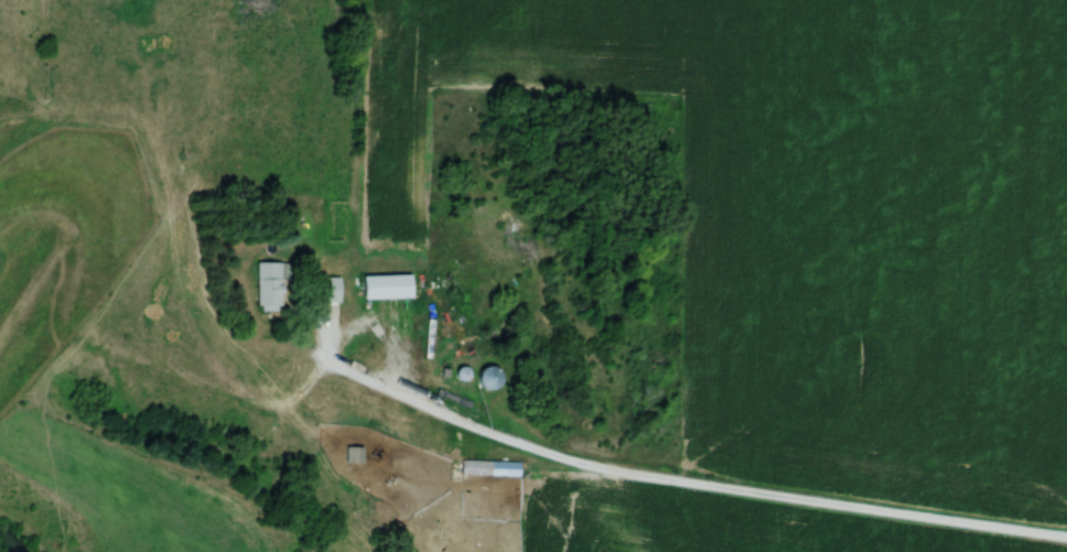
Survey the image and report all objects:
dam: (22, 271)
building: (268, 286)
building: (385, 288)
building: (325, 290)
building: (487, 378)
building: (352, 455)
building: (474, 468)
road: (645, 483)

